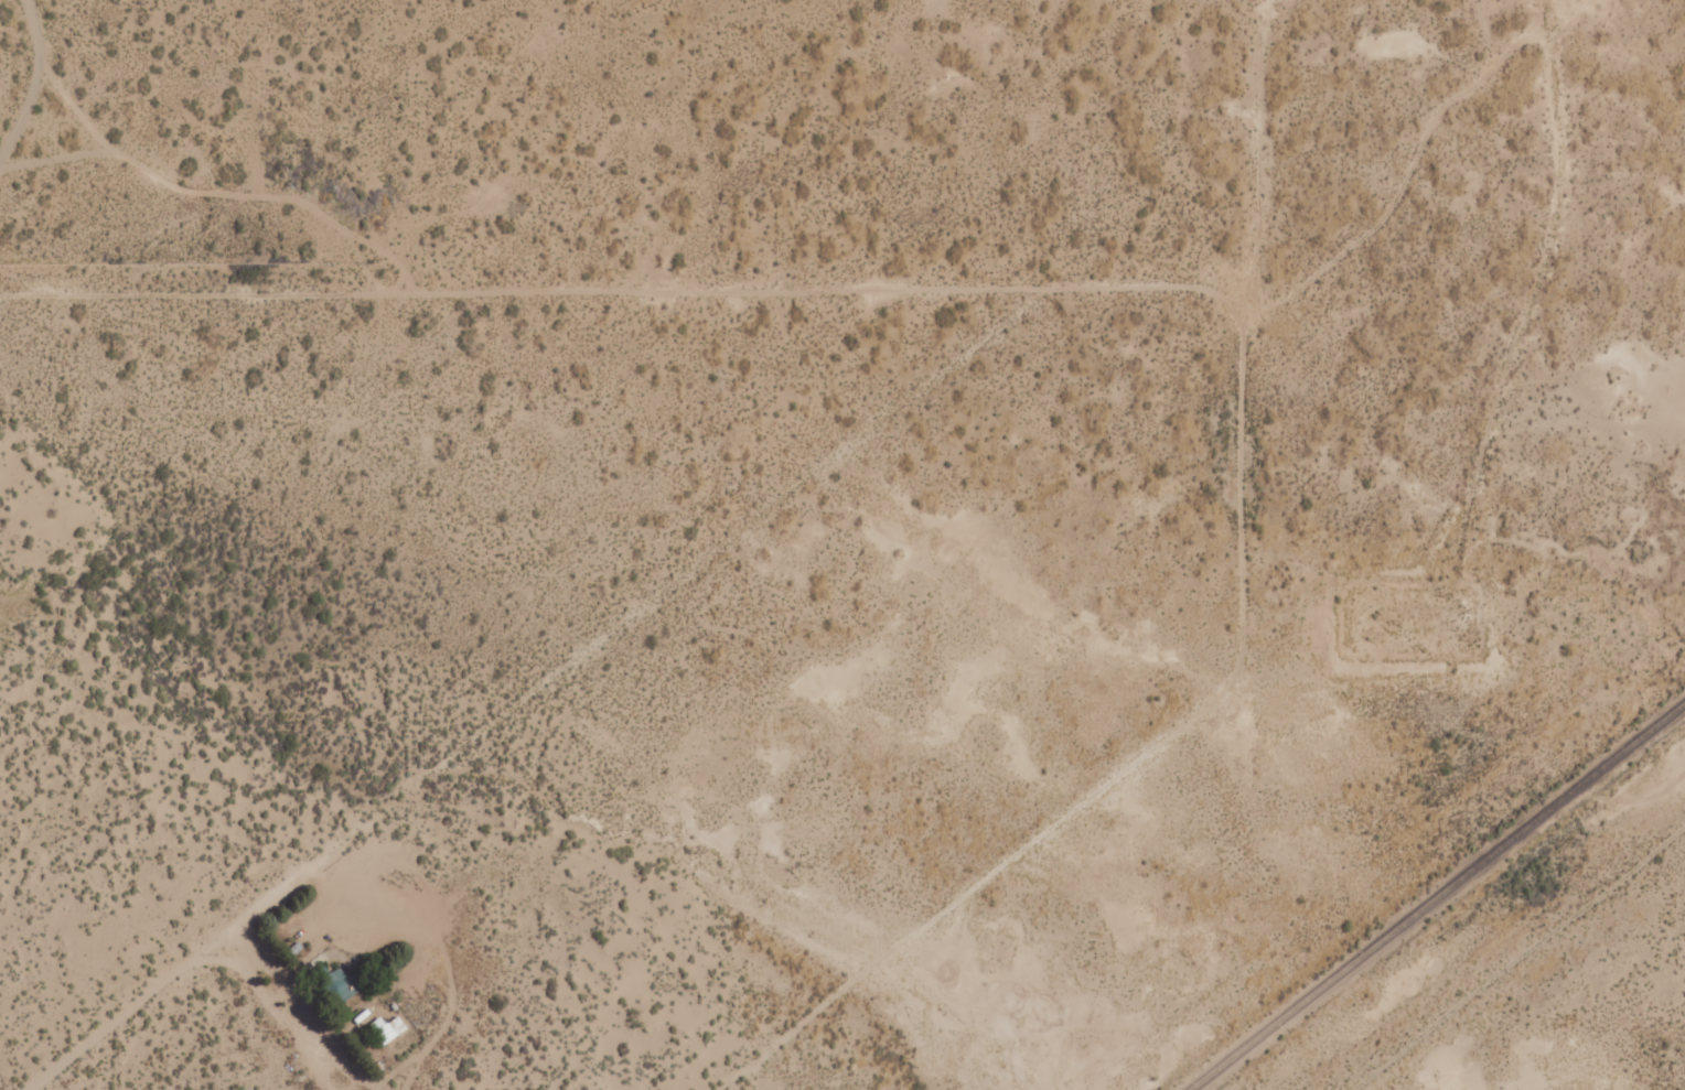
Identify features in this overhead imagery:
road: (33, 83)
railway: (1437, 895)
road: (1524, 963)
road: (100, 1024)
building: (389, 1027)

